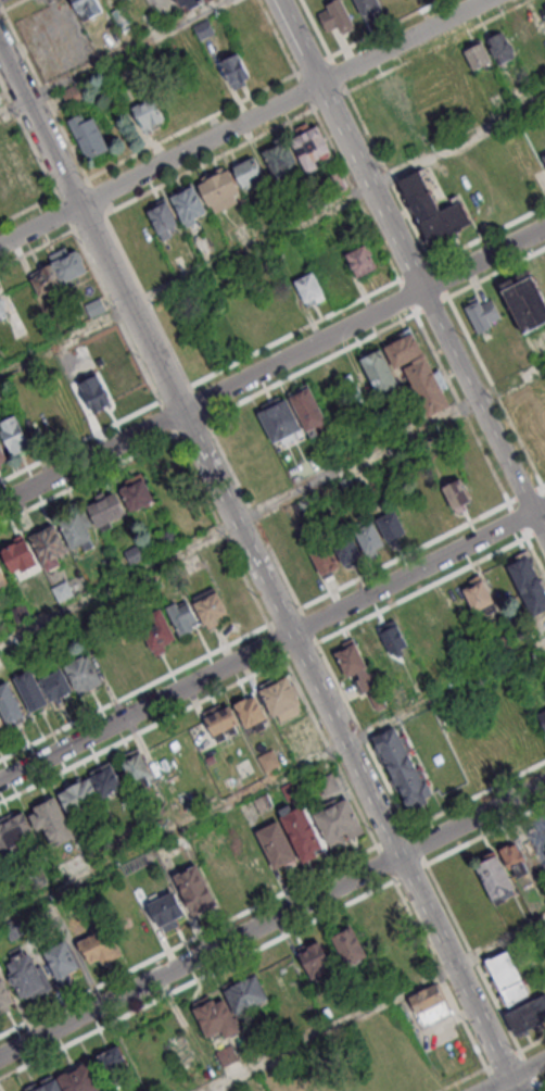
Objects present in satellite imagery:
building: (190, 2)
road: (13, 5)
building: (368, 7)
building: (88, 8)
road: (1, 12)
building: (337, 16)
building: (203, 27)
building: (520, 38)
road: (401, 42)
building: (500, 47)
road: (114, 54)
building: (477, 55)
building: (457, 65)
building: (232, 70)
building: (439, 75)
building: (418, 85)
building: (73, 93)
building: (397, 95)
building: (0, 101)
building: (149, 113)
building: (7, 127)
building: (87, 135)
road: (199, 142)
road: (347, 145)
building: (312, 147)
building: (544, 155)
building: (279, 156)
building: (22, 168)
building: (248, 171)
building: (218, 187)
building: (189, 205)
building: (432, 208)
building: (163, 218)
road: (40, 220)
road: (271, 234)
building: (203, 244)
building: (362, 260)
building: (67, 262)
building: (542, 275)
building: (43, 278)
building: (308, 287)
building: (525, 302)
building: (94, 306)
building: (1, 309)
building: (483, 314)
road: (365, 317)
building: (379, 371)
building: (417, 372)
building: (96, 393)
road: (476, 401)
building: (308, 409)
building: (530, 418)
building: (279, 421)
building: (15, 436)
building: (2, 455)
road: (92, 455)
building: (363, 485)
building: (348, 489)
building: (137, 492)
building: (457, 493)
building: (434, 503)
road: (271, 505)
building: (301, 506)
road: (537, 507)
building: (105, 510)
building: (413, 515)
building: (272, 519)
building: (391, 525)
road: (537, 526)
building: (77, 531)
building: (368, 537)
building: (169, 539)
building: (49, 545)
building: (346, 548)
building: (134, 554)
road: (256, 555)
building: (21, 559)
building: (325, 559)
building: (112, 567)
building: (301, 570)
building: (3, 576)
building: (529, 585)
building: (61, 590)
building: (478, 594)
building: (235, 595)
building: (136, 597)
building: (210, 606)
building: (18, 612)
building: (181, 616)
building: (156, 630)
building: (393, 639)
road: (265, 645)
building: (371, 645)
building: (134, 649)
building: (109, 661)
building: (354, 666)
building: (81, 673)
building: (58, 690)
building: (33, 694)
building: (281, 698)
building: (11, 707)
building: (252, 712)
building: (542, 717)
building: (223, 722)
building: (1, 723)
building: (302, 729)
building: (268, 760)
building: (403, 766)
building: (135, 767)
road: (271, 778)
building: (106, 779)
building: (327, 782)
building: (291, 788)
building: (79, 798)
building: (338, 818)
building: (52, 820)
building: (301, 831)
building: (15, 833)
building: (540, 839)
building: (276, 844)
building: (514, 854)
building: (495, 877)
building: (194, 886)
building: (166, 908)
road: (271, 920)
building: (384, 930)
building: (100, 942)
building: (350, 944)
building: (62, 958)
building: (315, 961)
building: (27, 975)
building: (507, 976)
road: (197, 979)
building: (280, 981)
building: (245, 993)
building: (4, 996)
road: (449, 998)
road: (375, 1004)
building: (429, 1004)
building: (527, 1014)
building: (215, 1017)
building: (227, 1055)
building: (112, 1063)
road: (508, 1073)
building: (81, 1078)
road: (516, 1081)
building: (48, 1086)

